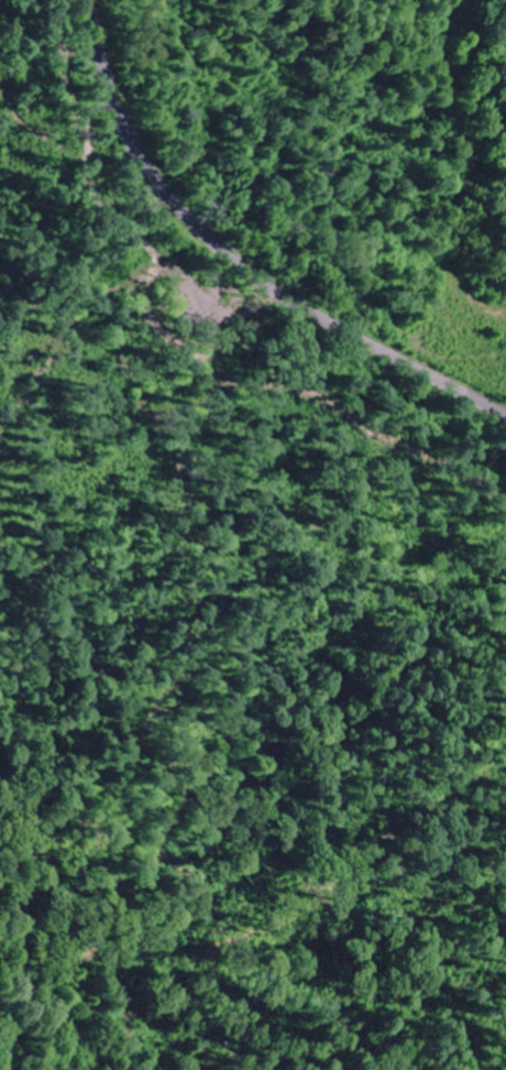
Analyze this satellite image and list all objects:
road: (102, 73)
road: (296, 307)

